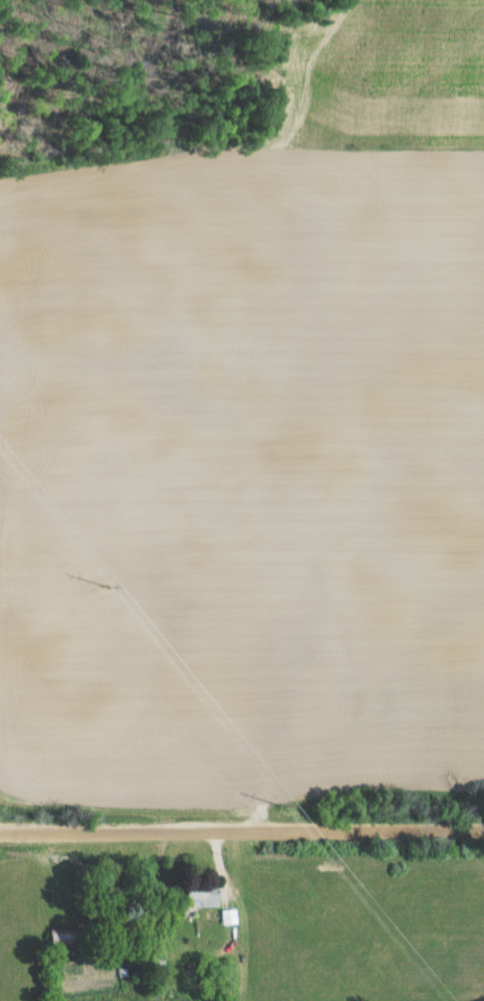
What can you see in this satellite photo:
road: (242, 832)
building: (206, 896)
building: (69, 936)

